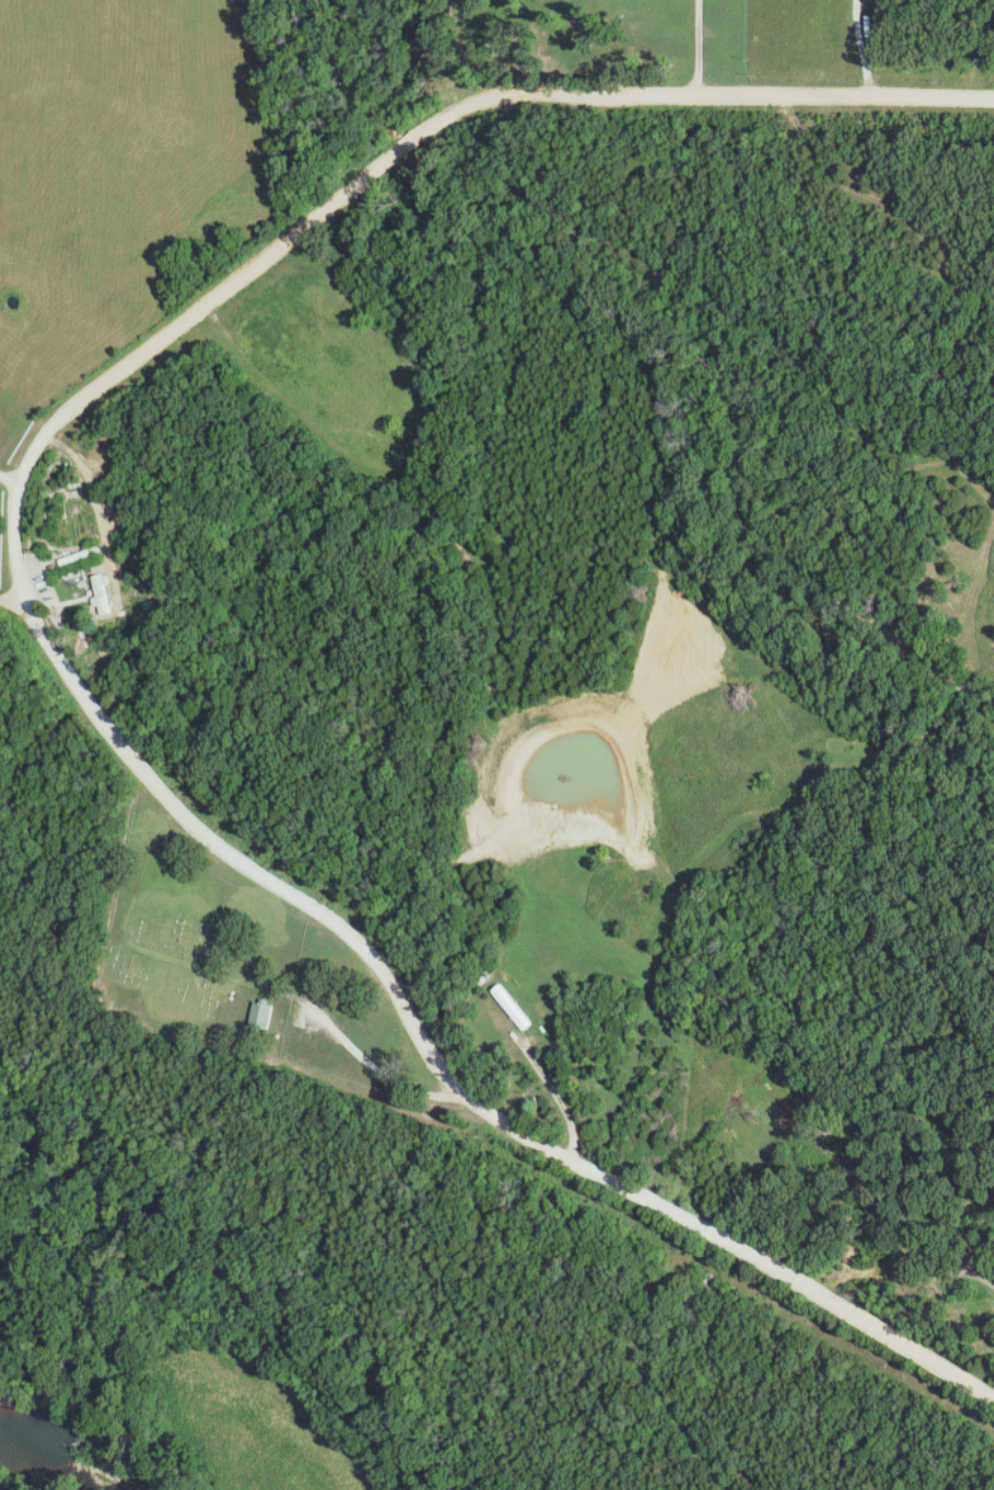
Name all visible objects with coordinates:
road: (862, 52)
road: (366, 334)
road: (94, 397)
road: (19, 469)
building: (105, 593)
road: (22, 606)
park: (197, 955)
building: (518, 1011)
building: (264, 1014)
road: (375, 1065)
road: (553, 1090)
road: (784, 1275)
river: (68, 1449)

